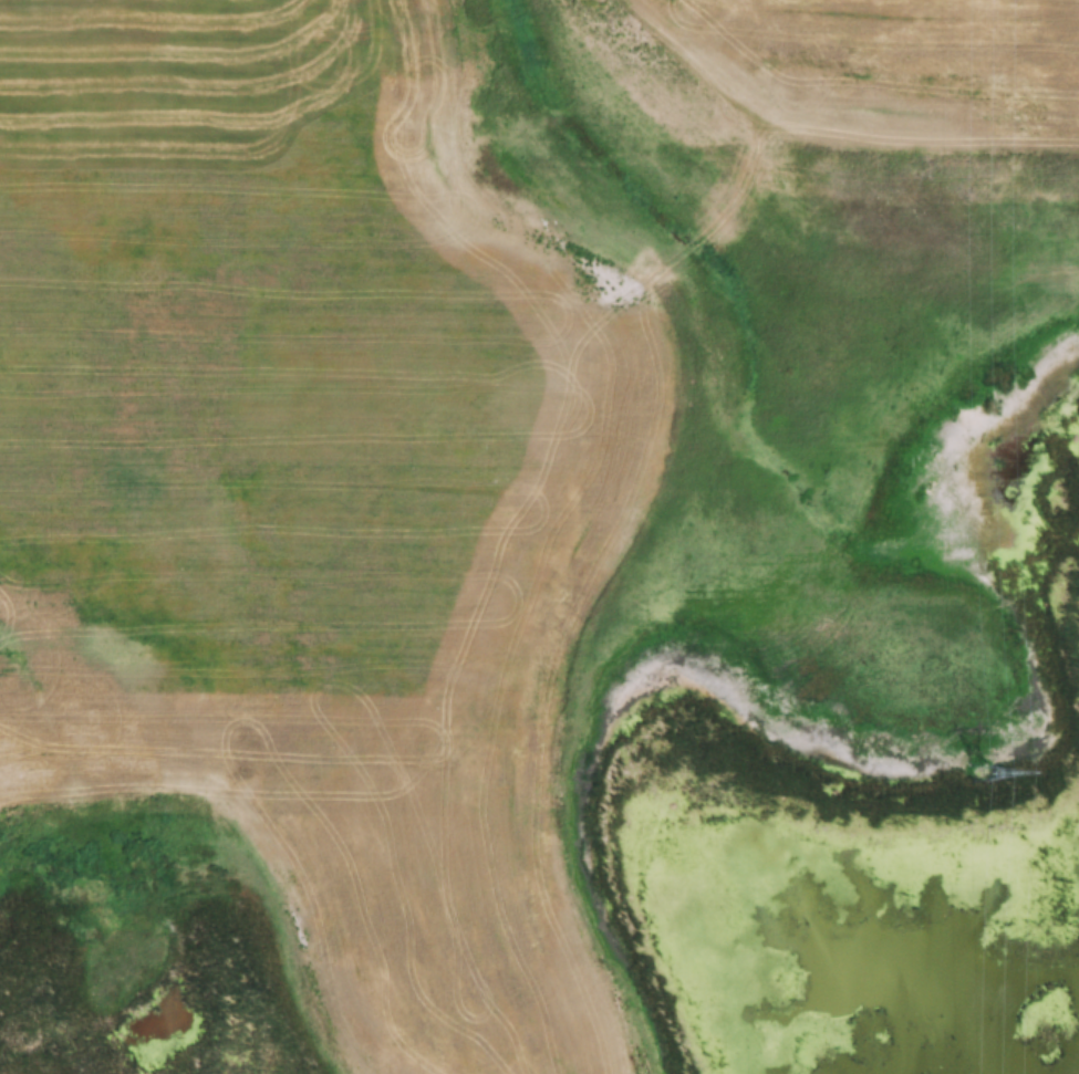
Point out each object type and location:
power tower: (973, 771)

